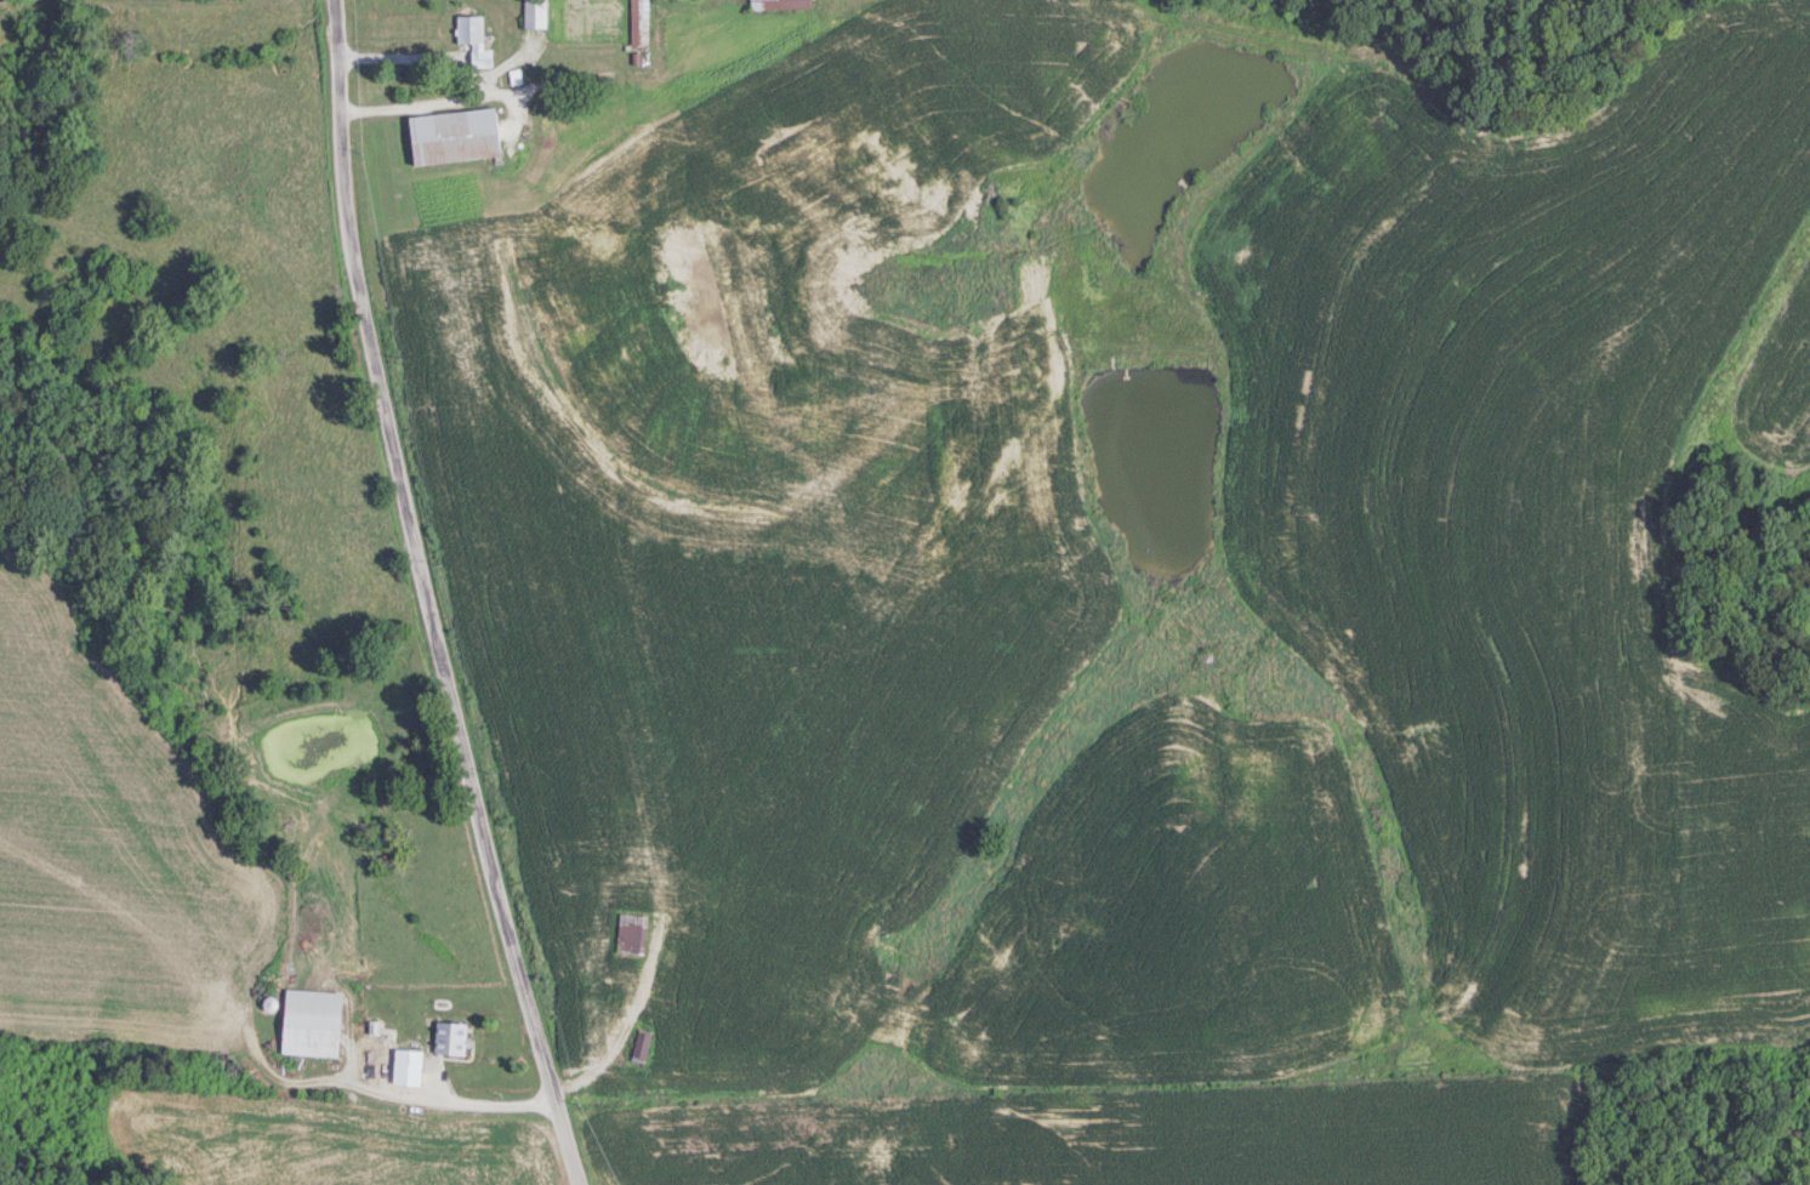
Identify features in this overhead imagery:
building: (780, 4)
building: (535, 13)
building: (639, 22)
building: (474, 39)
road: (488, 89)
building: (456, 136)
road: (431, 597)
building: (632, 930)
building: (312, 1021)
building: (451, 1037)
building: (642, 1044)
building: (408, 1065)
road: (483, 1101)

